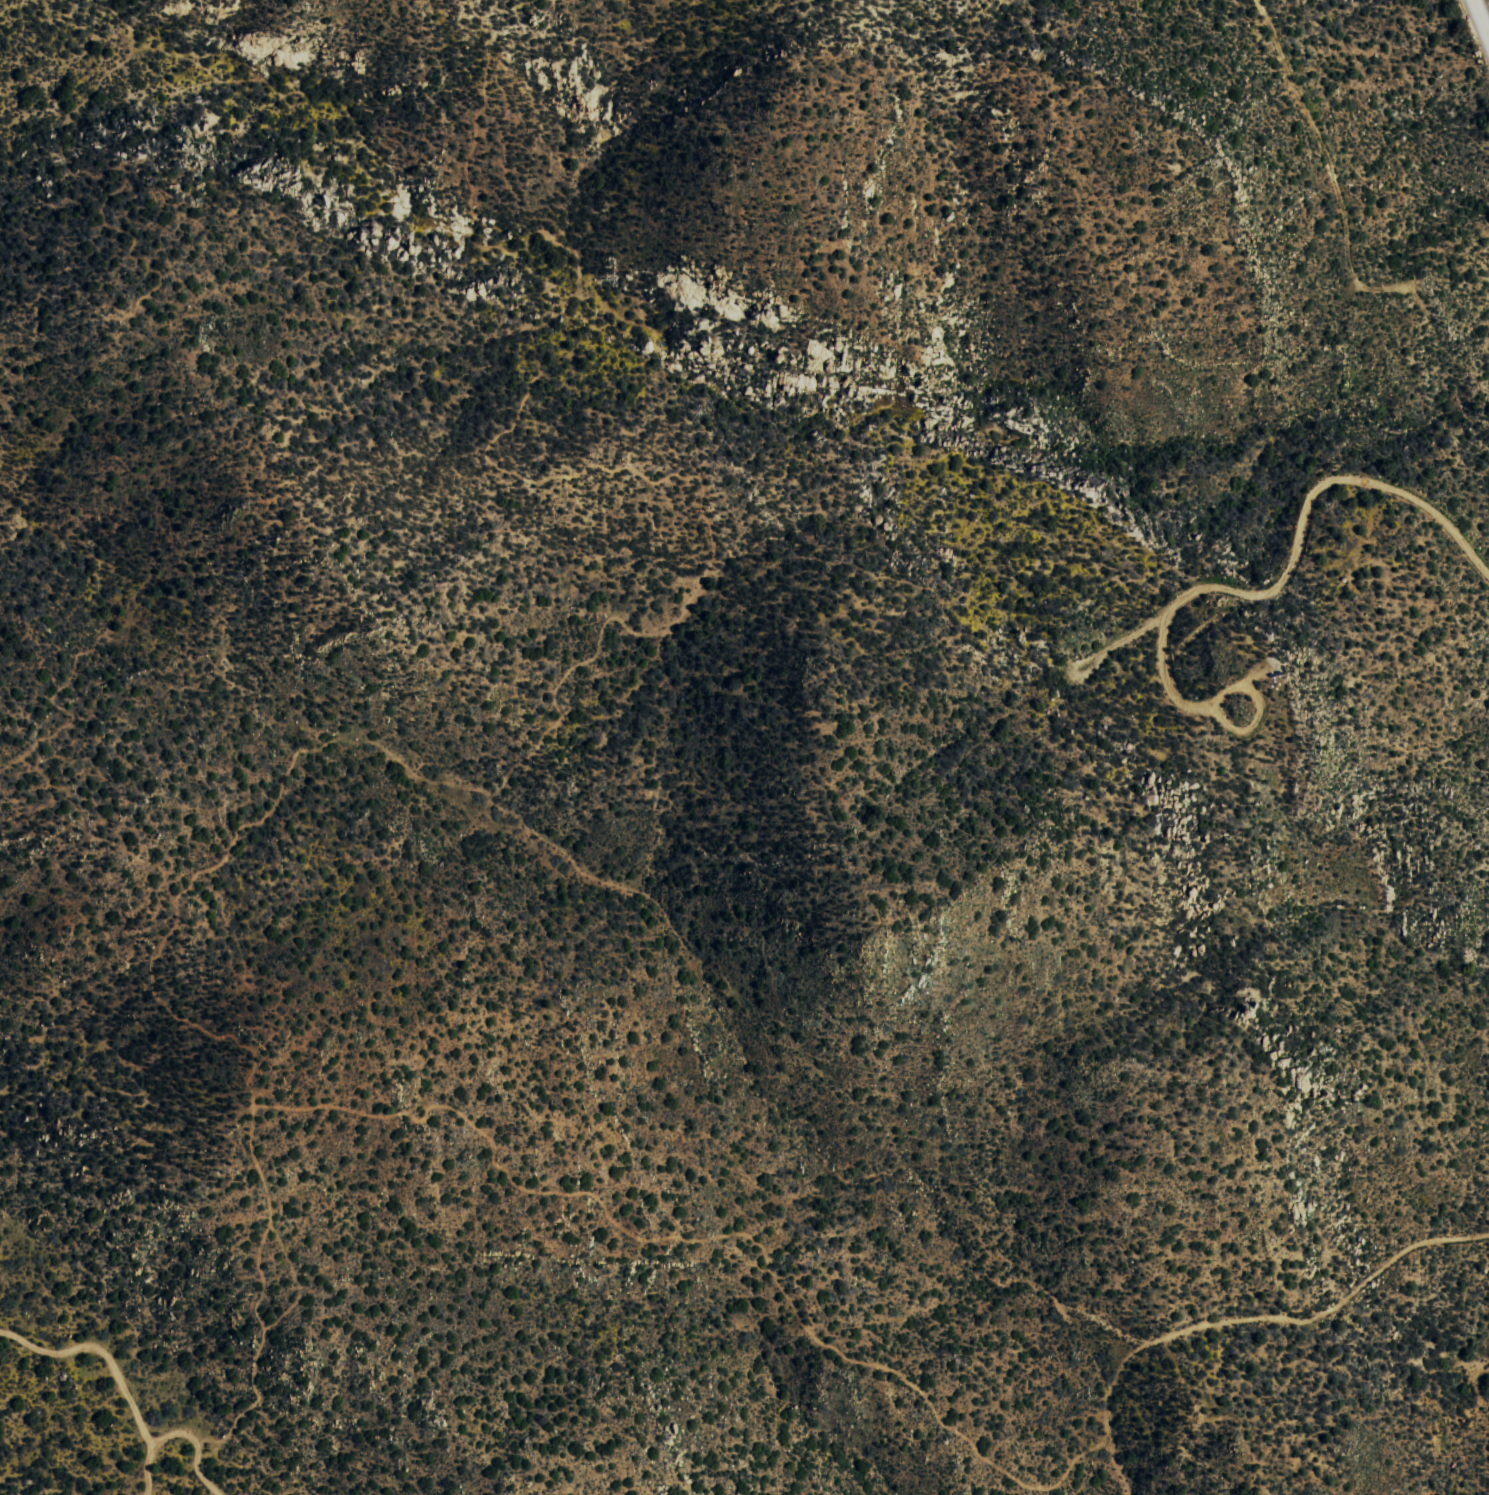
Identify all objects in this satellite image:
road: (1482, 15)
road: (488, 172)

